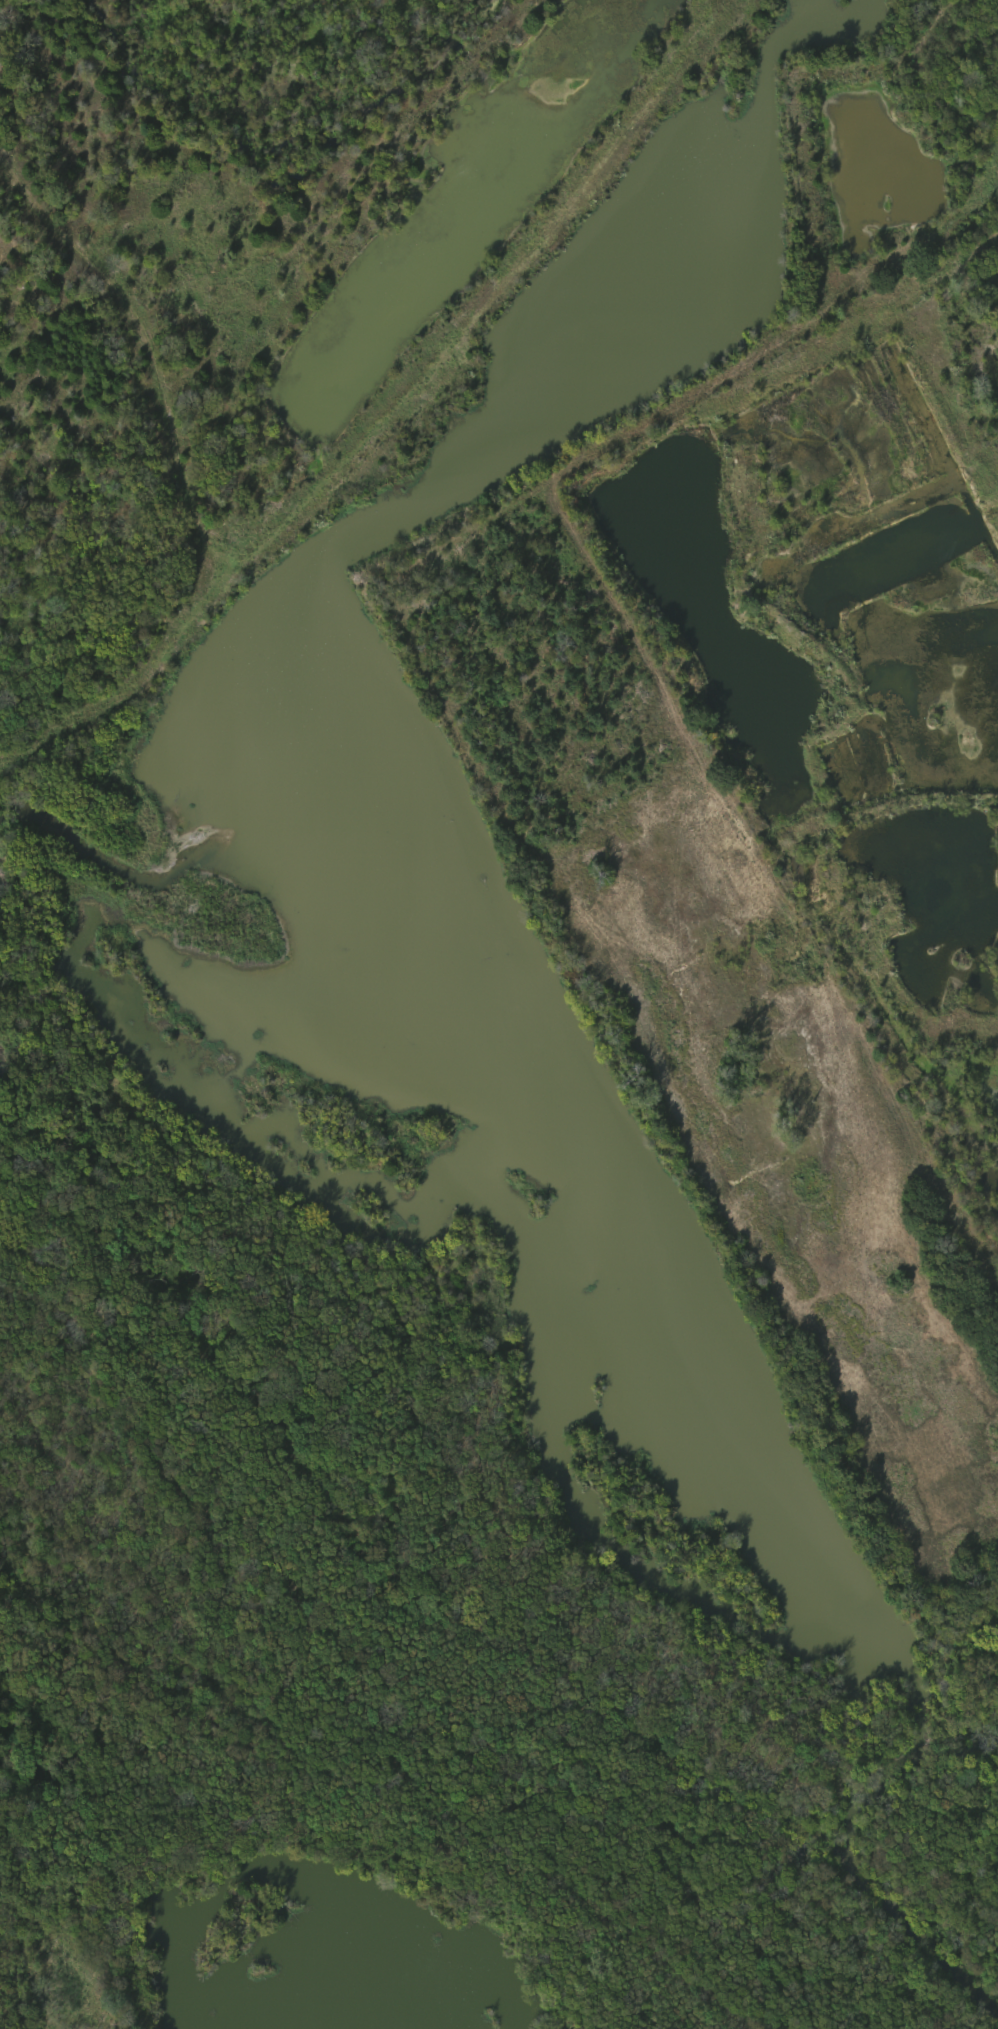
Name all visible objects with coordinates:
road: (49, 286)
road: (128, 300)

